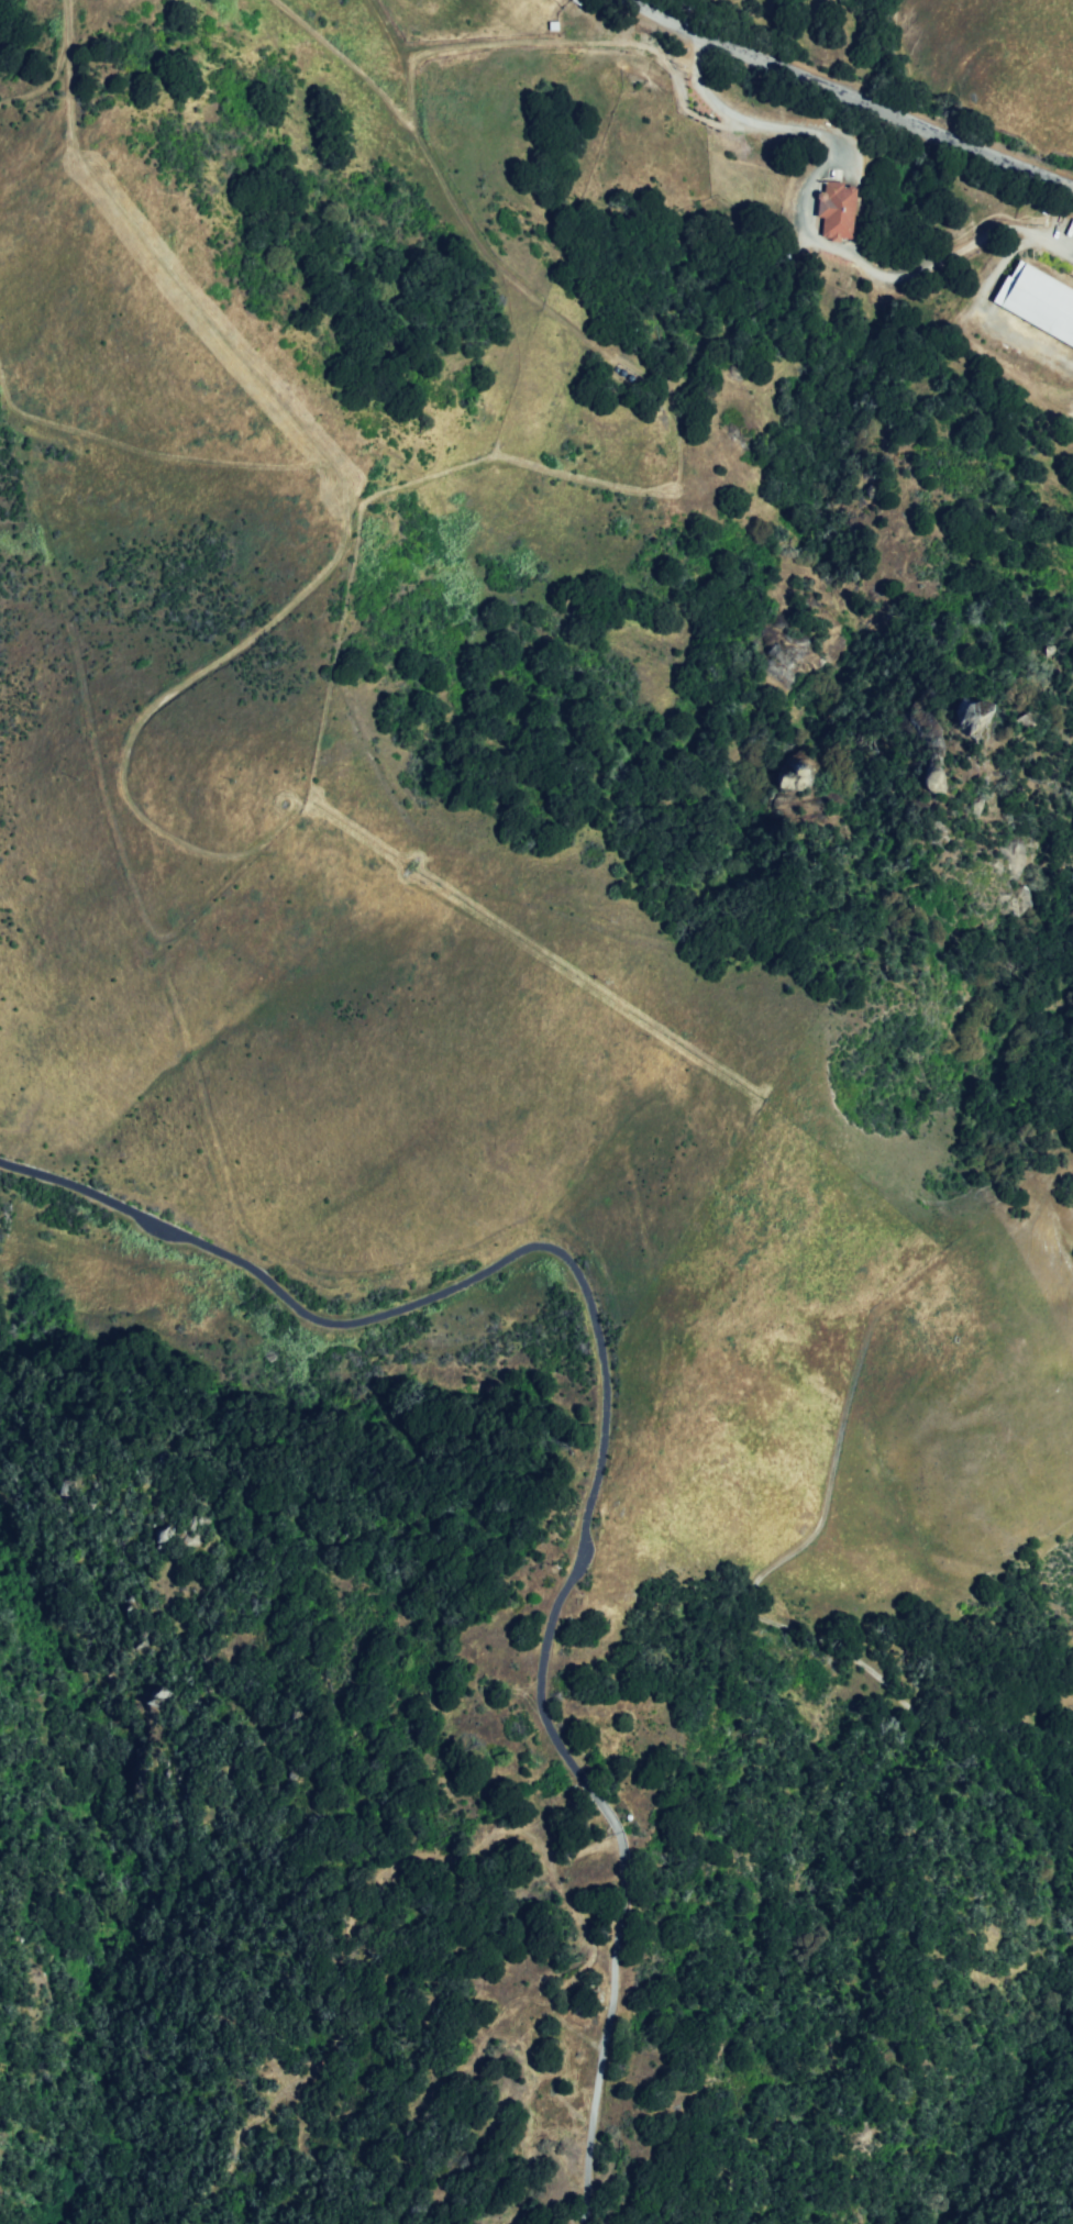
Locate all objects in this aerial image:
road: (849, 99)
building: (836, 212)
building: (1042, 302)
building: (973, 721)
road: (411, 1305)
road: (830, 1465)
road: (624, 1866)

